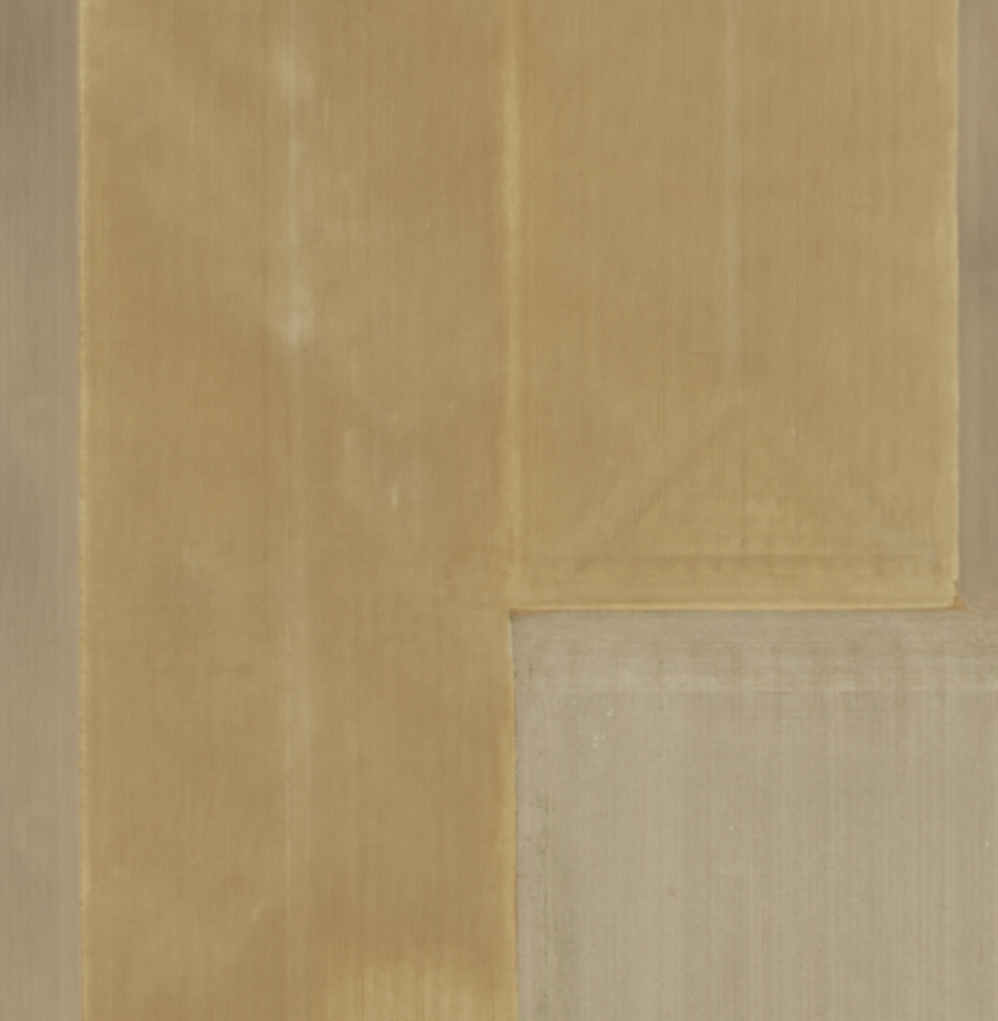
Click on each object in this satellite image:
crop: (499, 510)

